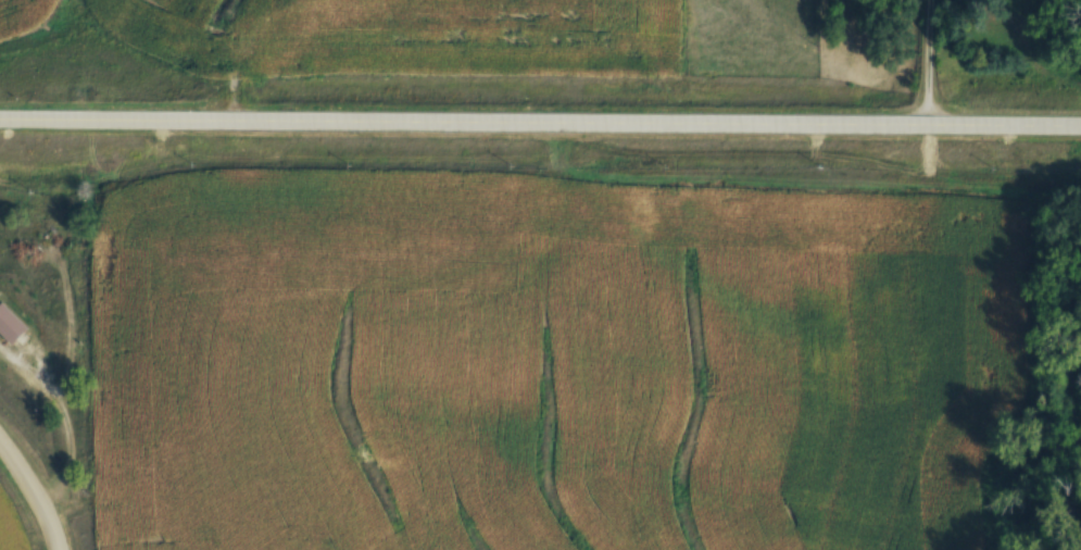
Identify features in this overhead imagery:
road: (927, 61)
road: (540, 118)
building: (9, 323)
road: (33, 491)

